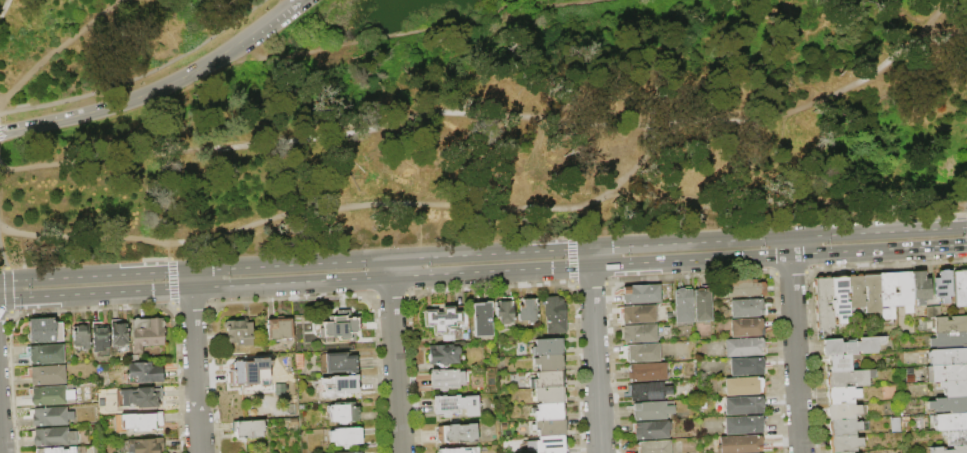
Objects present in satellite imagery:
road: (2, 5)
road: (419, 29)
road: (910, 39)
road: (52, 48)
road: (893, 51)
road: (238, 64)
road: (139, 77)
road: (159, 88)
road: (217, 109)
road: (417, 110)
road: (773, 119)
park: (465, 122)
road: (881, 137)
road: (382, 163)
road: (786, 164)
road: (437, 172)
road: (627, 174)
road: (145, 197)
road: (481, 204)
road: (789, 246)
road: (171, 248)
road: (483, 253)
road: (2, 257)
road: (589, 257)
road: (389, 268)
road: (483, 273)
road: (190, 279)
road: (172, 280)
building: (942, 285)
building: (920, 287)
building: (960, 287)
road: (6, 289)
building: (744, 289)
building: (904, 290)
building: (856, 291)
building: (872, 292)
building: (639, 294)
building: (887, 294)
building: (839, 297)
building: (702, 303)
building: (683, 304)
building: (823, 304)
building: (748, 308)
building: (503, 310)
building: (527, 310)
building: (932, 311)
building: (554, 315)
building: (636, 315)
building: (481, 319)
building: (443, 321)
building: (950, 324)
building: (279, 327)
building: (341, 327)
building: (747, 328)
building: (44, 330)
building: (119, 331)
building: (239, 331)
building: (146, 334)
building: (638, 334)
building: (80, 335)
building: (100, 335)
building: (949, 340)
building: (852, 346)
building: (548, 347)
building: (745, 347)
building: (640, 353)
building: (43, 354)
building: (442, 355)
road: (795, 355)
building: (947, 356)
road: (595, 360)
building: (298, 361)
building: (340, 362)
building: (840, 362)
building: (549, 363)
road: (394, 366)
building: (747, 367)
road: (195, 371)
building: (249, 372)
building: (646, 372)
building: (143, 373)
building: (946, 373)
building: (45, 375)
building: (848, 378)
building: (445, 379)
building: (549, 379)
building: (340, 386)
building: (744, 386)
building: (954, 388)
building: (646, 391)
building: (280, 392)
building: (549, 395)
building: (841, 395)
building: (49, 396)
building: (142, 398)
building: (949, 404)
building: (454, 405)
building: (744, 406)
building: (650, 411)
building: (843, 411)
building: (343, 412)
building: (549, 412)
building: (49, 416)
building: (294, 421)
building: (950, 421)
building: (141, 422)
building: (744, 425)
building: (550, 427)
building: (843, 427)
building: (248, 428)
building: (650, 430)
building: (456, 433)
building: (52, 437)
building: (346, 437)
building: (956, 437)
building: (844, 443)
building: (741, 444)
building: (144, 445)
building: (547, 445)
building: (653, 447)
building: (949, 449)
building: (58, 450)
building: (458, 450)
building: (351, 452)
building: (559, 452)
building: (844, 452)

